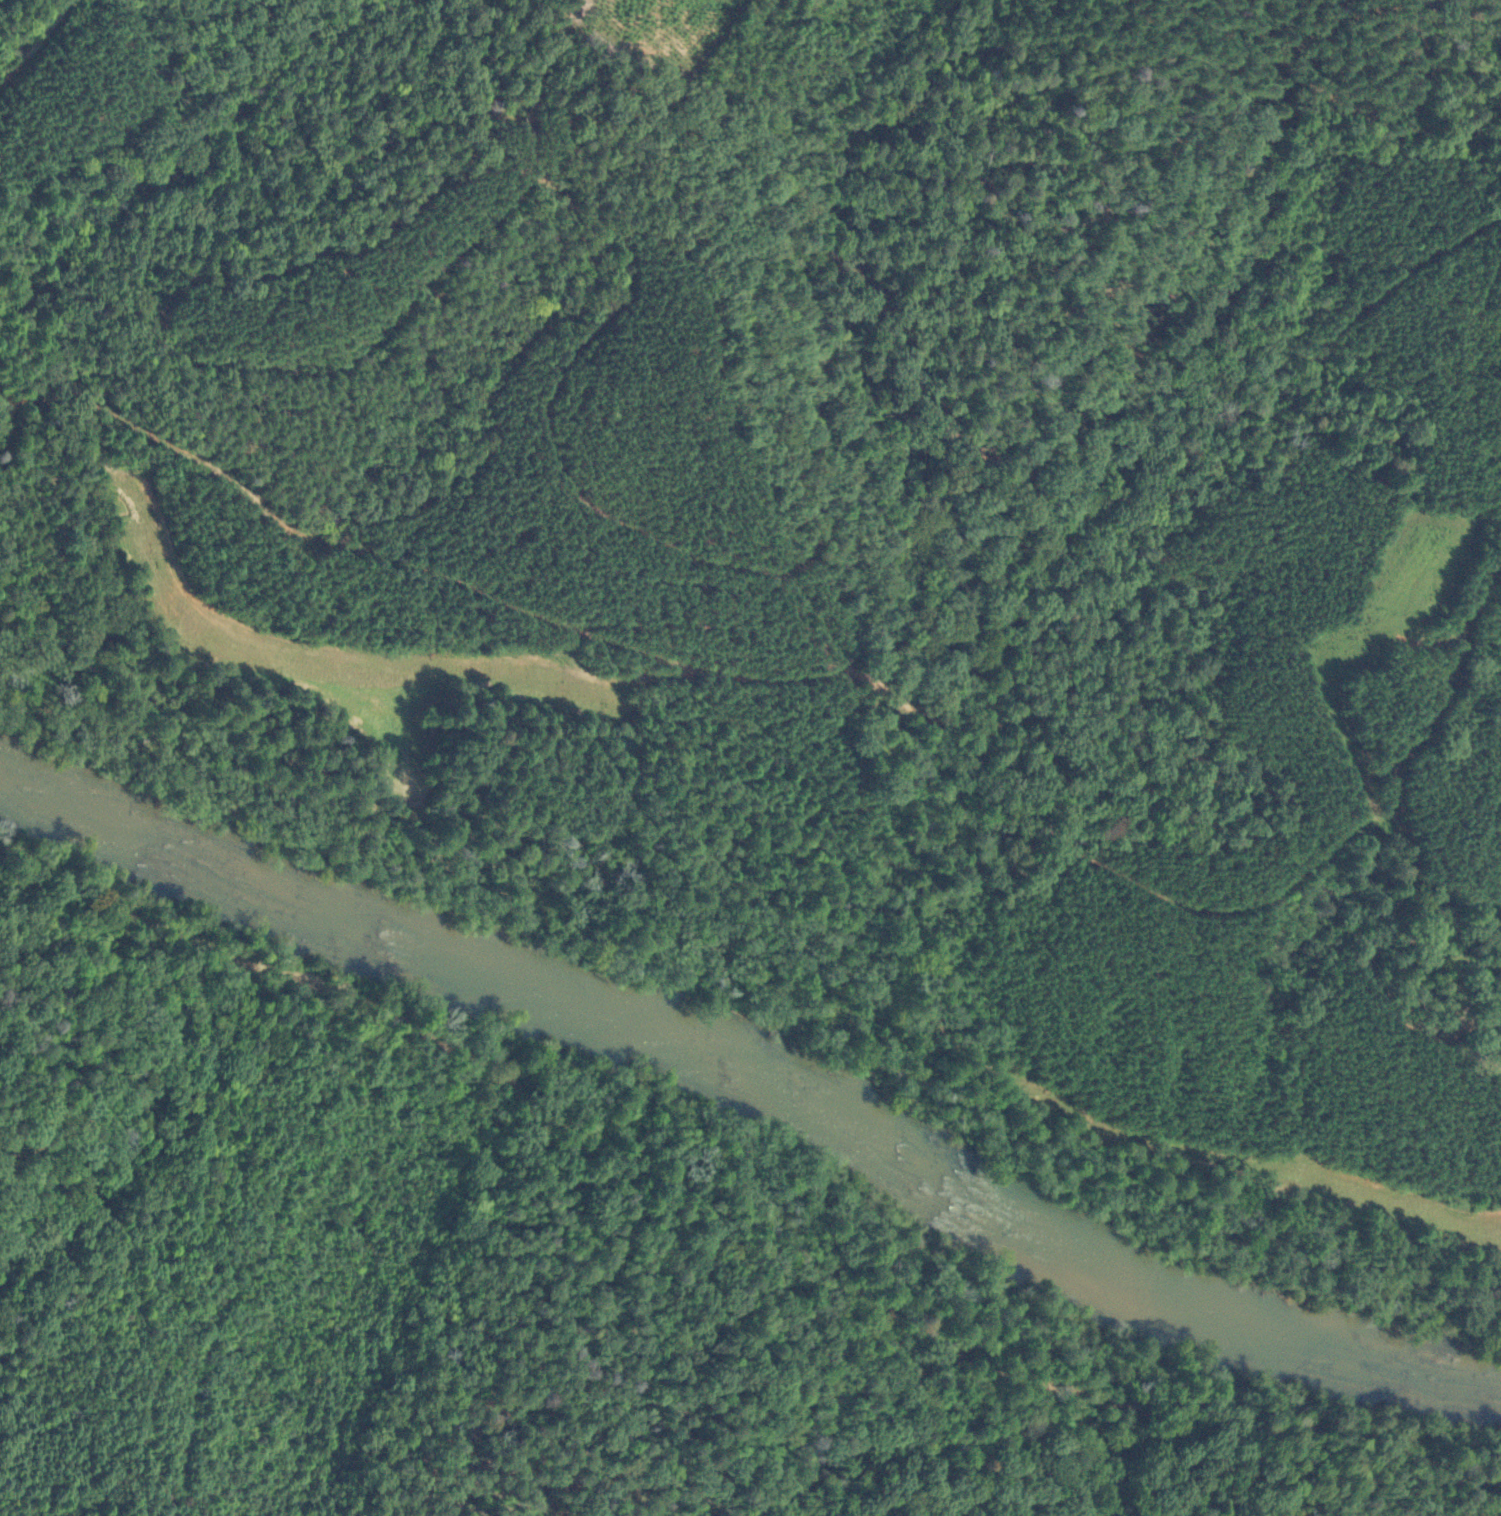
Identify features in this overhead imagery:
river: (752, 1073)

